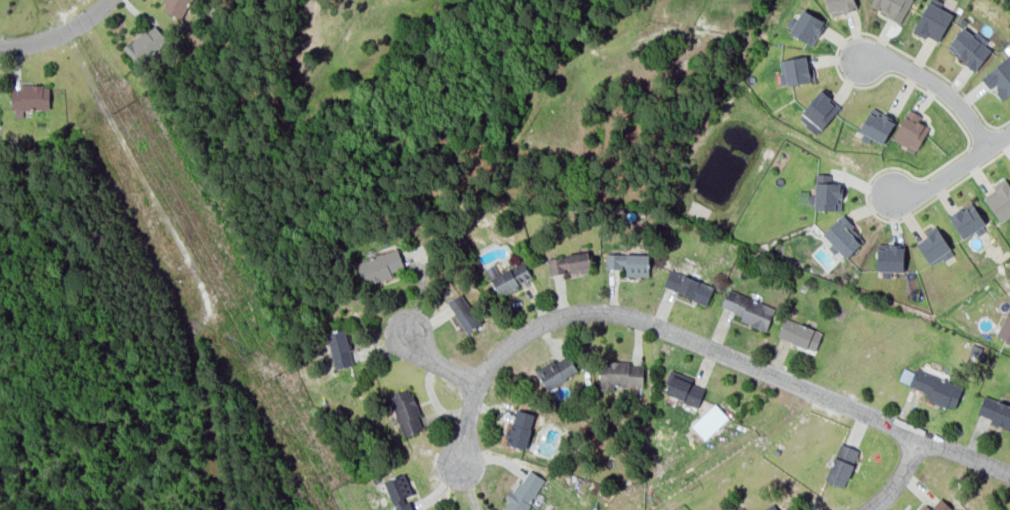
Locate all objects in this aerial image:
dam: (521, 3)
building: (175, 6)
building: (839, 6)
building: (892, 8)
dam: (547, 19)
building: (932, 20)
building: (807, 27)
road: (57, 33)
building: (144, 44)
building: (969, 48)
building: (795, 71)
building: (999, 77)
road: (937, 85)
building: (29, 96)
power tower: (116, 110)
building: (818, 111)
building: (876, 124)
building: (910, 129)
road: (955, 168)
building: (827, 192)
building: (805, 197)
building: (999, 199)
building: (967, 220)
building: (842, 235)
building: (933, 245)
building: (889, 256)
building: (568, 262)
building: (628, 262)
building: (379, 266)
power tower: (1009, 266)
building: (510, 277)
building: (688, 286)
building: (747, 308)
building: (464, 312)
building: (1005, 327)
building: (799, 333)
road: (701, 340)
building: (340, 347)
building: (975, 350)
road: (439, 363)
building: (556, 371)
building: (619, 374)
power tower: (266, 379)
building: (683, 388)
building: (935, 388)
building: (994, 410)
building: (404, 411)
building: (520, 428)
building: (775, 451)
building: (841, 465)
road: (900, 479)
power tower: (687, 485)
building: (523, 491)
building: (399, 492)
building: (936, 506)
building: (770, 507)

